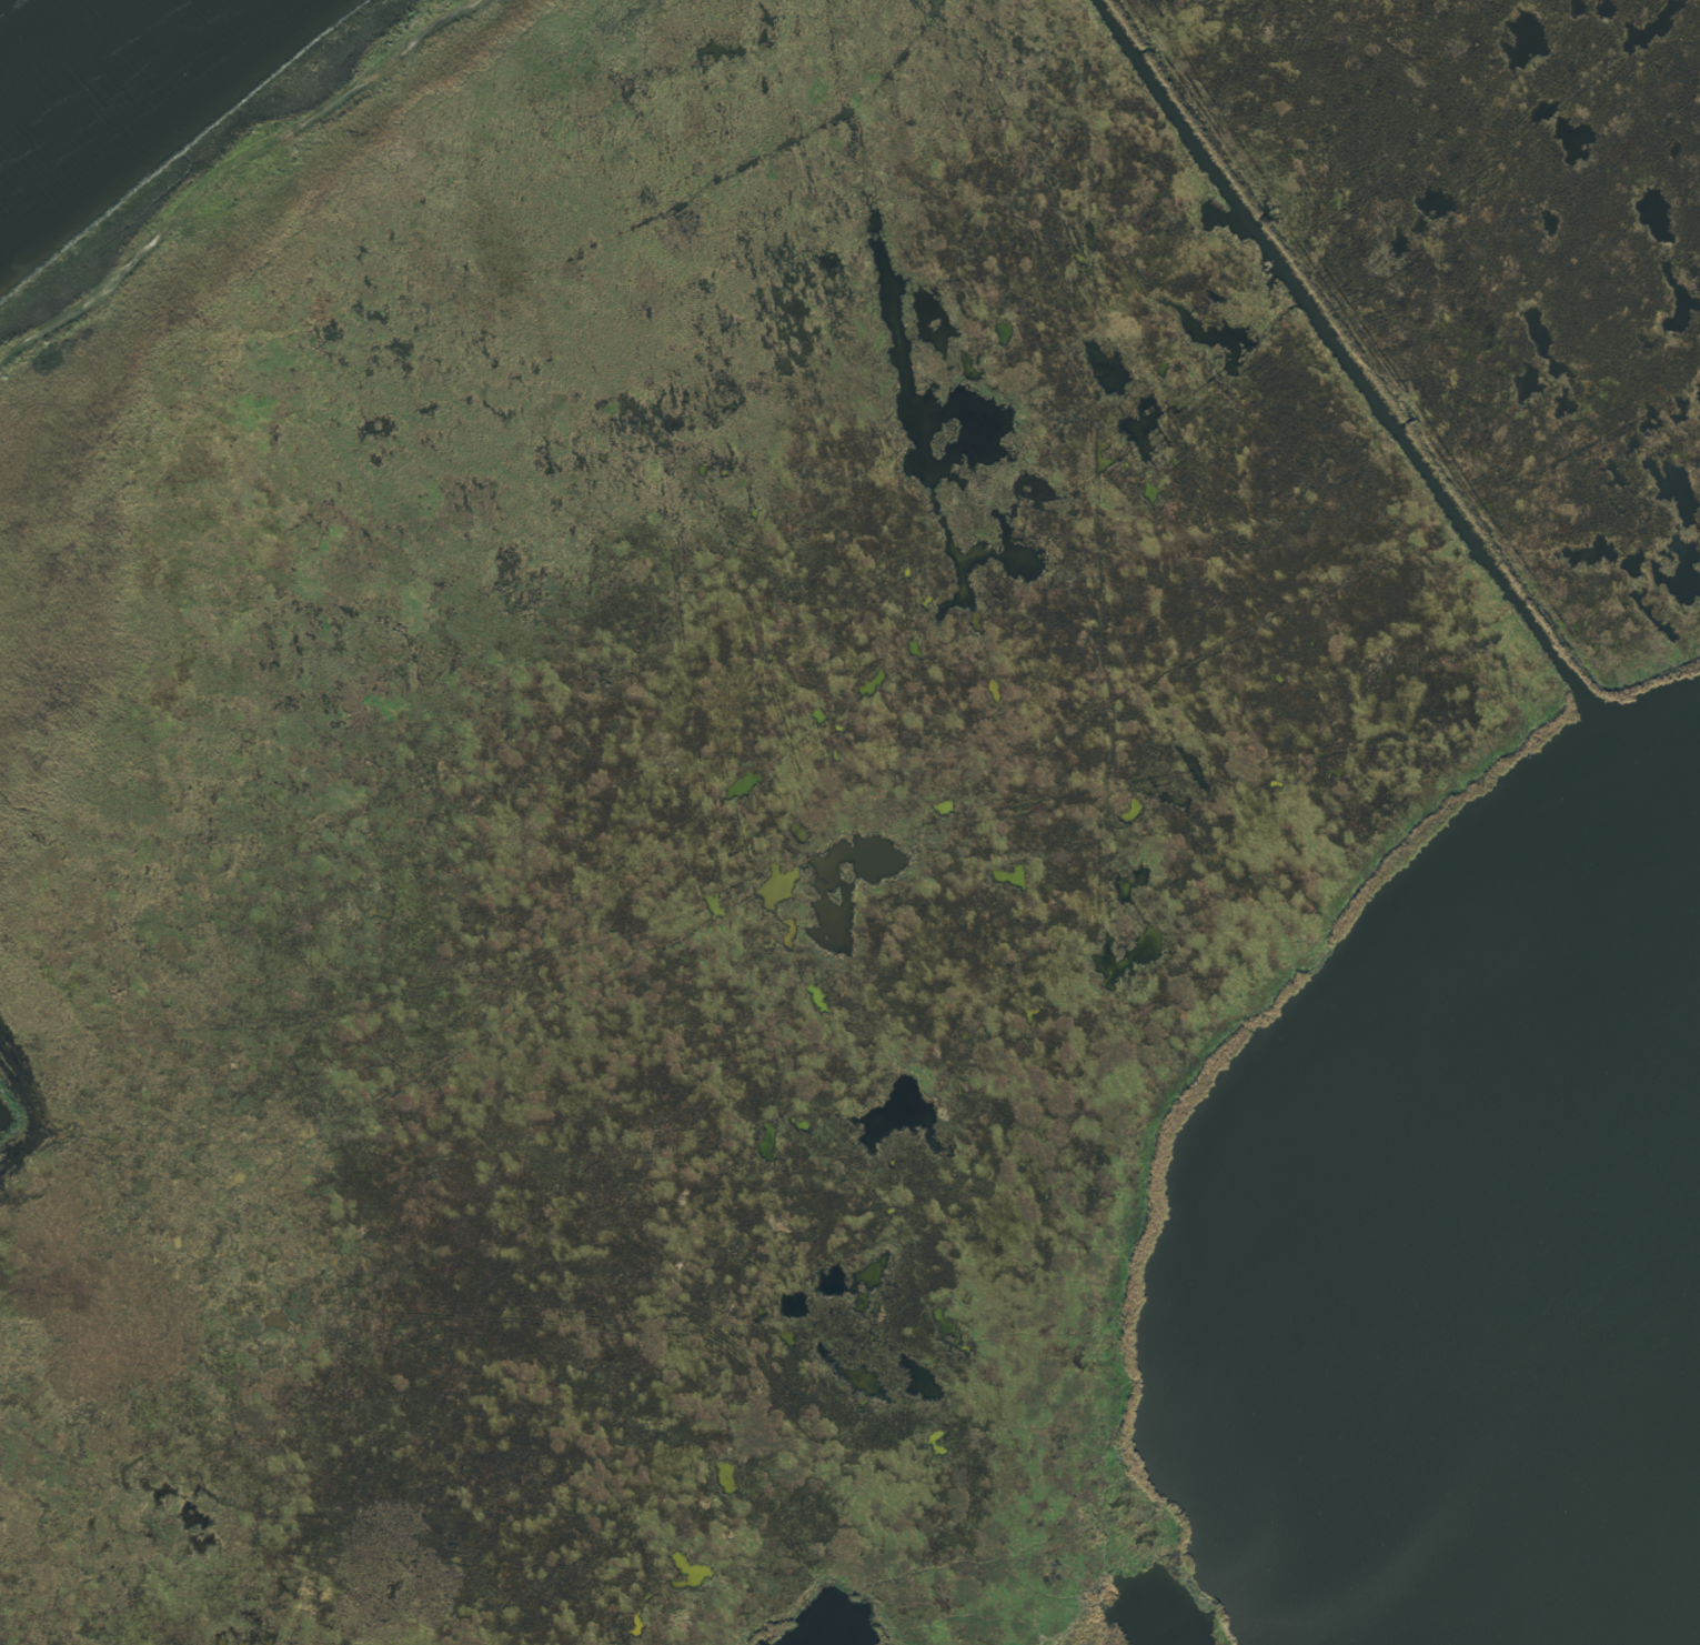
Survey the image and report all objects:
road: (227, 191)

